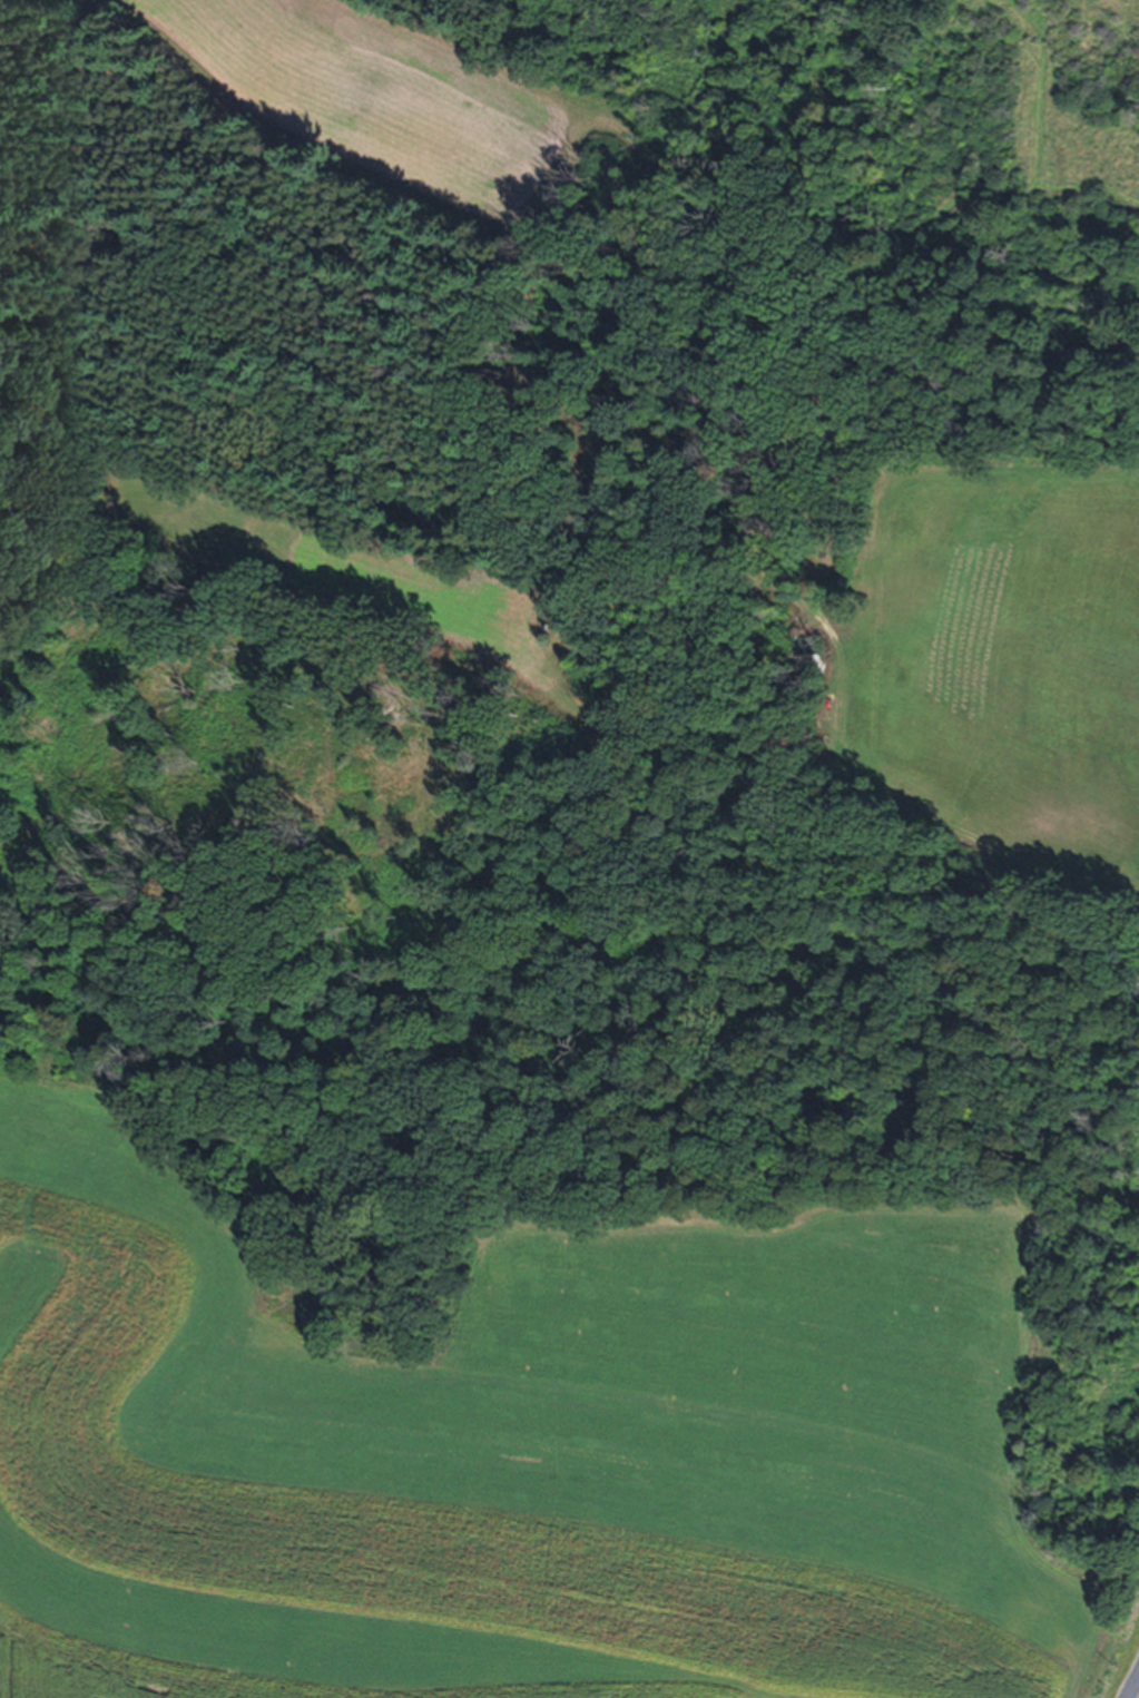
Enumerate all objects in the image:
road: (1130, 1681)

